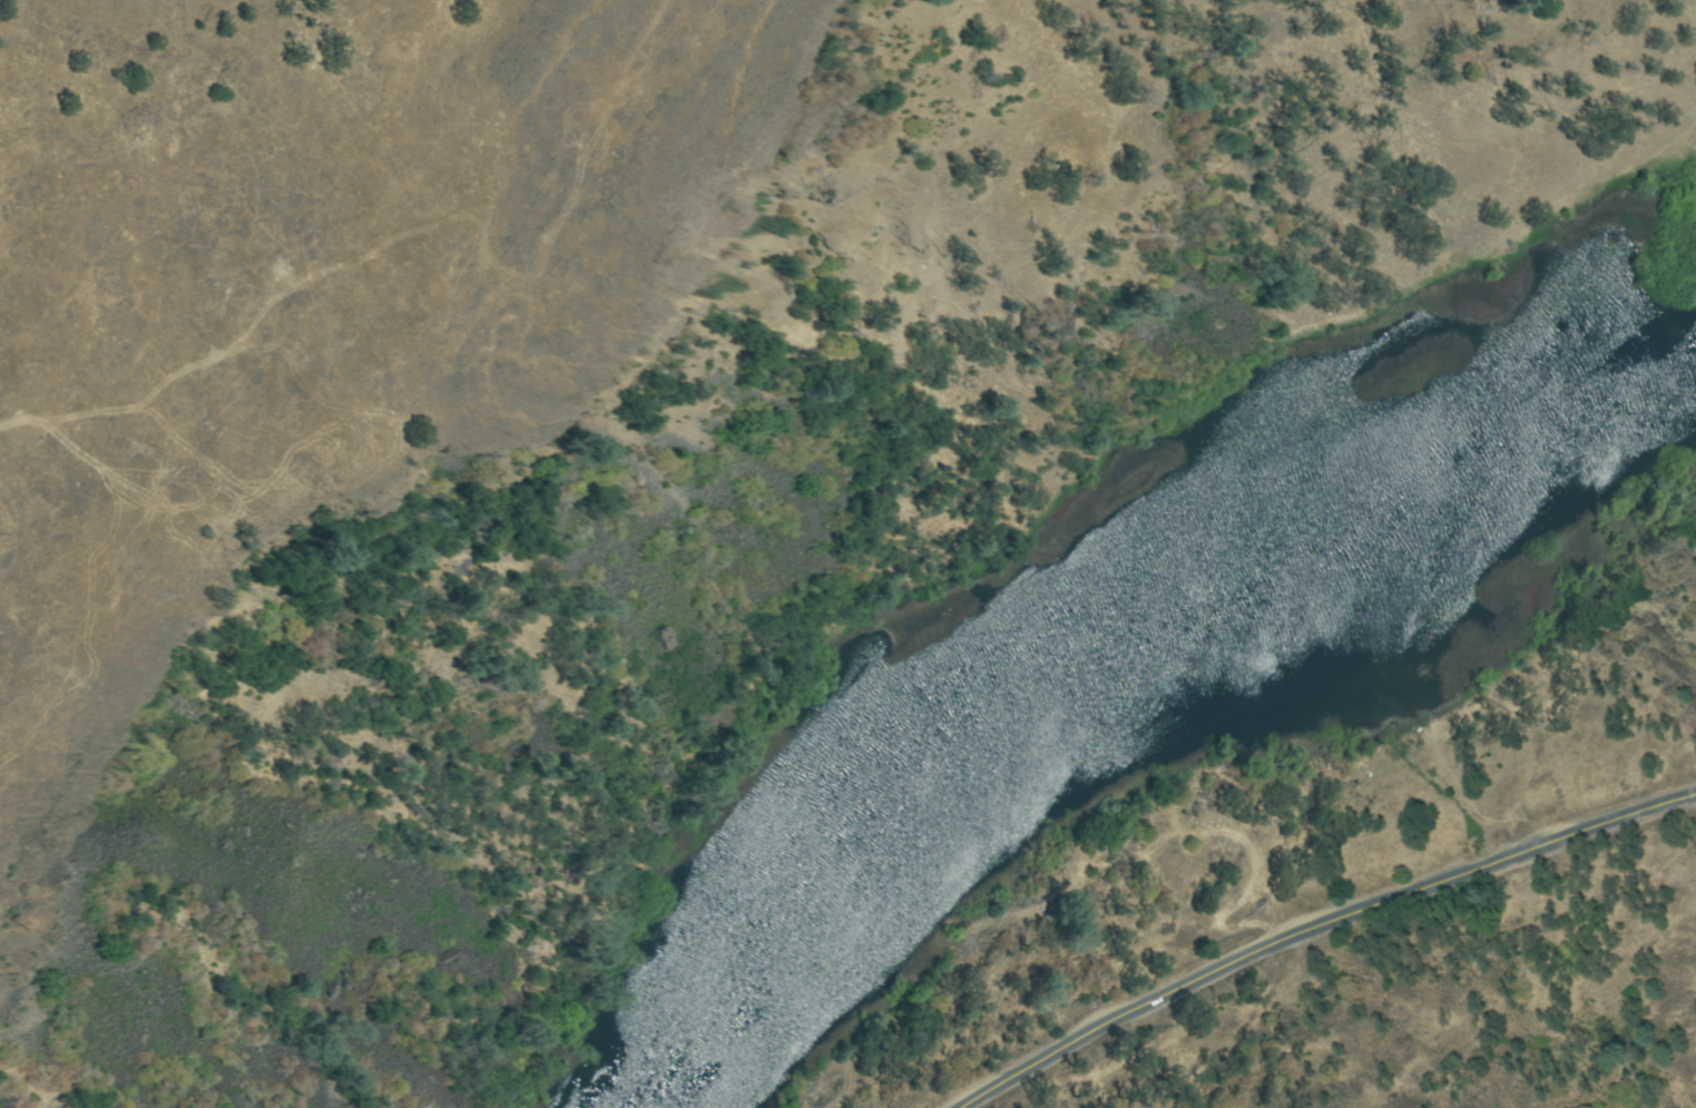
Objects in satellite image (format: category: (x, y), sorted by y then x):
road: (1337, 939)

